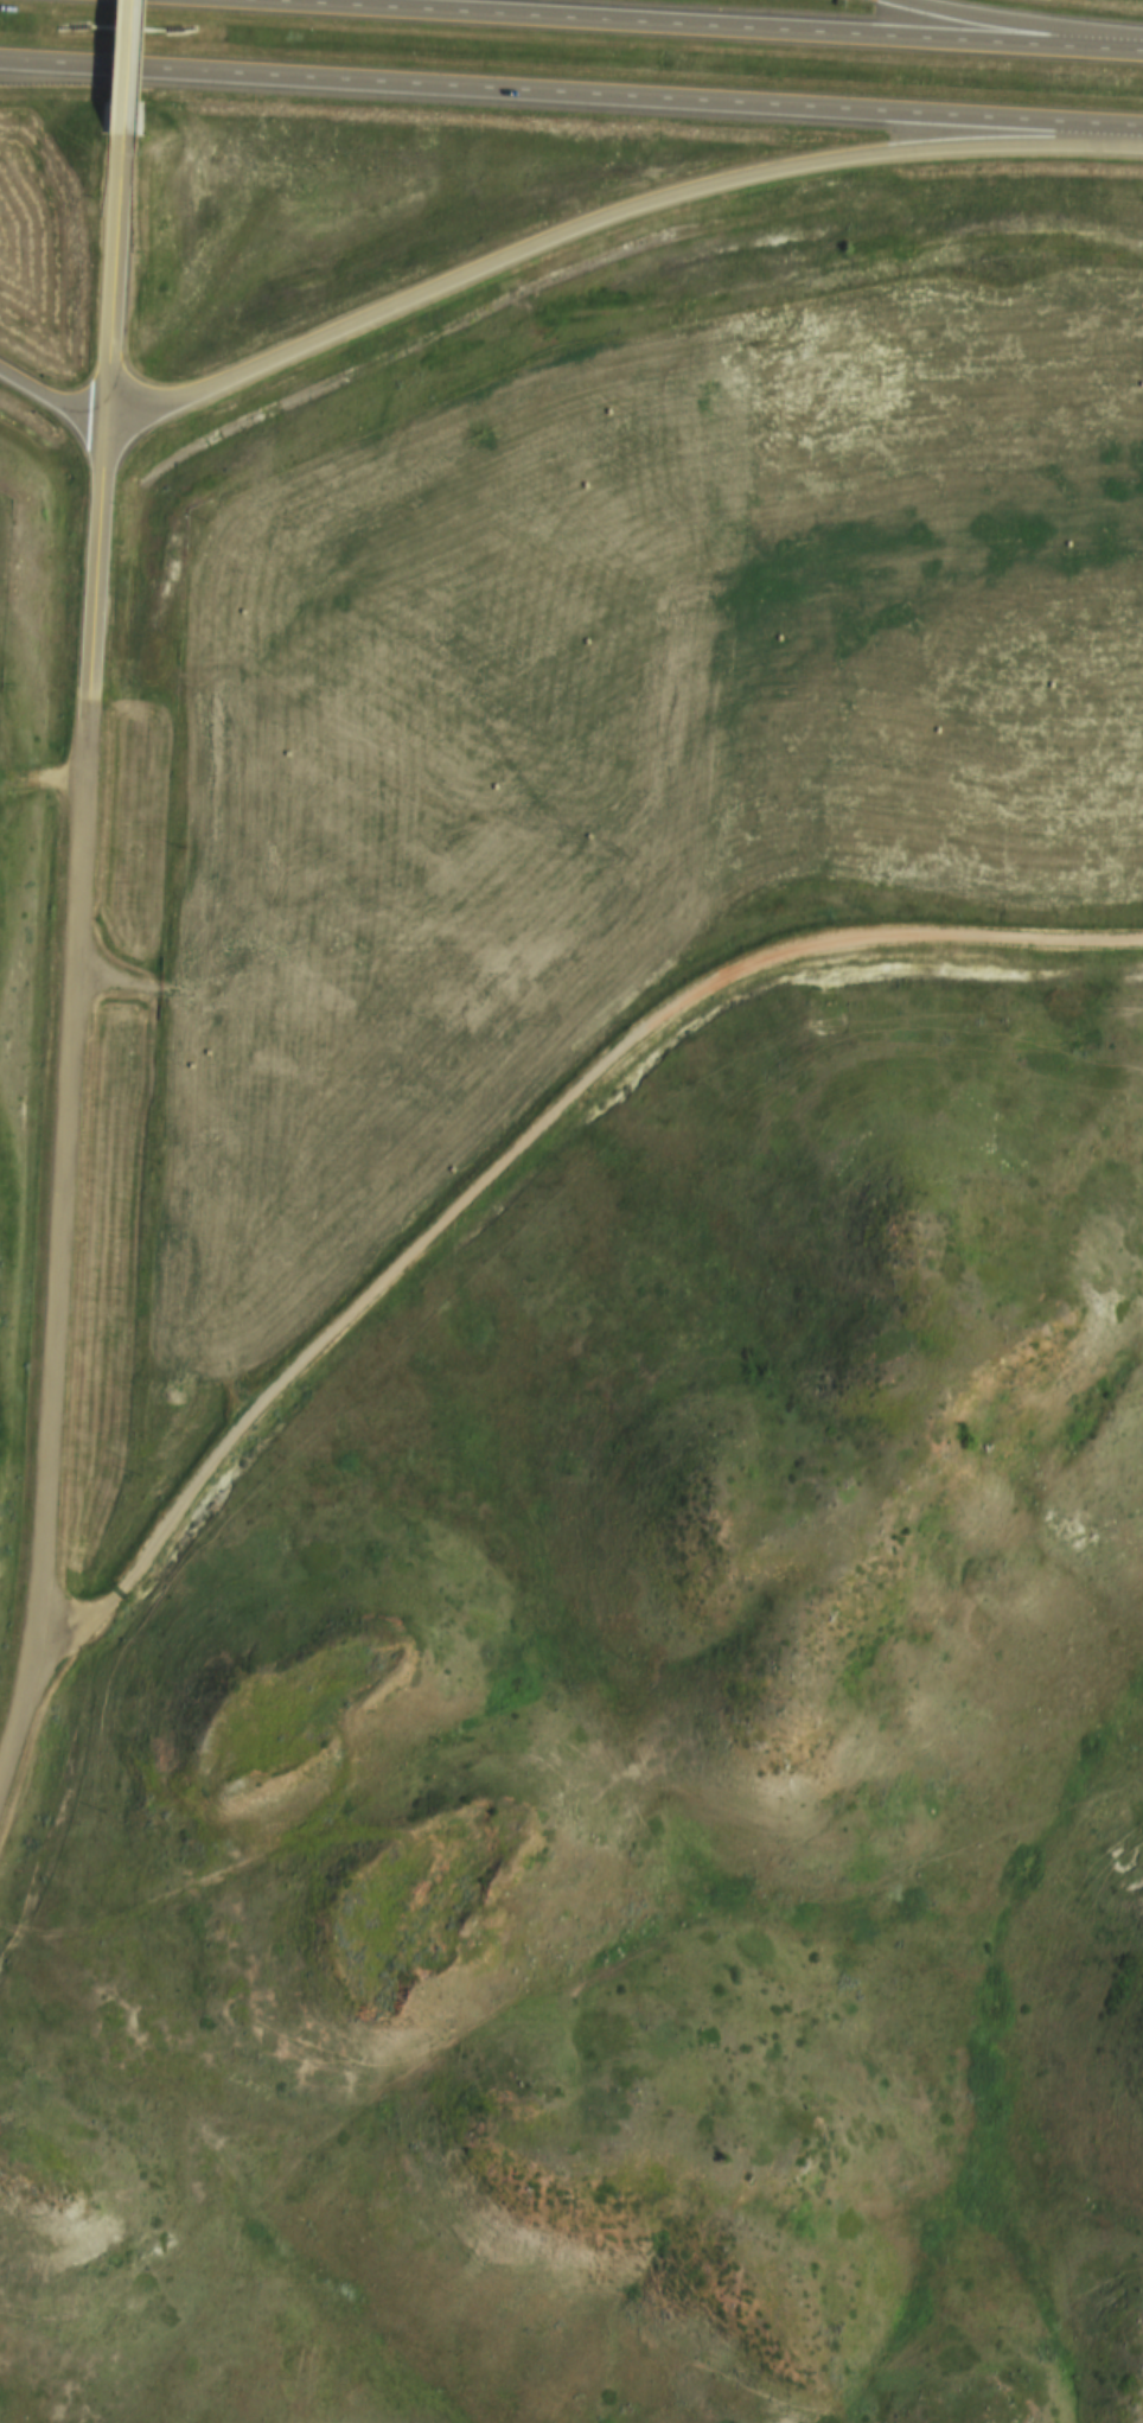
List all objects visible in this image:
road: (665, 27)
road: (1016, 27)
road: (130, 65)
road: (571, 104)
road: (606, 227)
road: (109, 408)
road: (53, 413)
road: (517, 1161)
road: (65, 1168)
road: (18, 1710)

